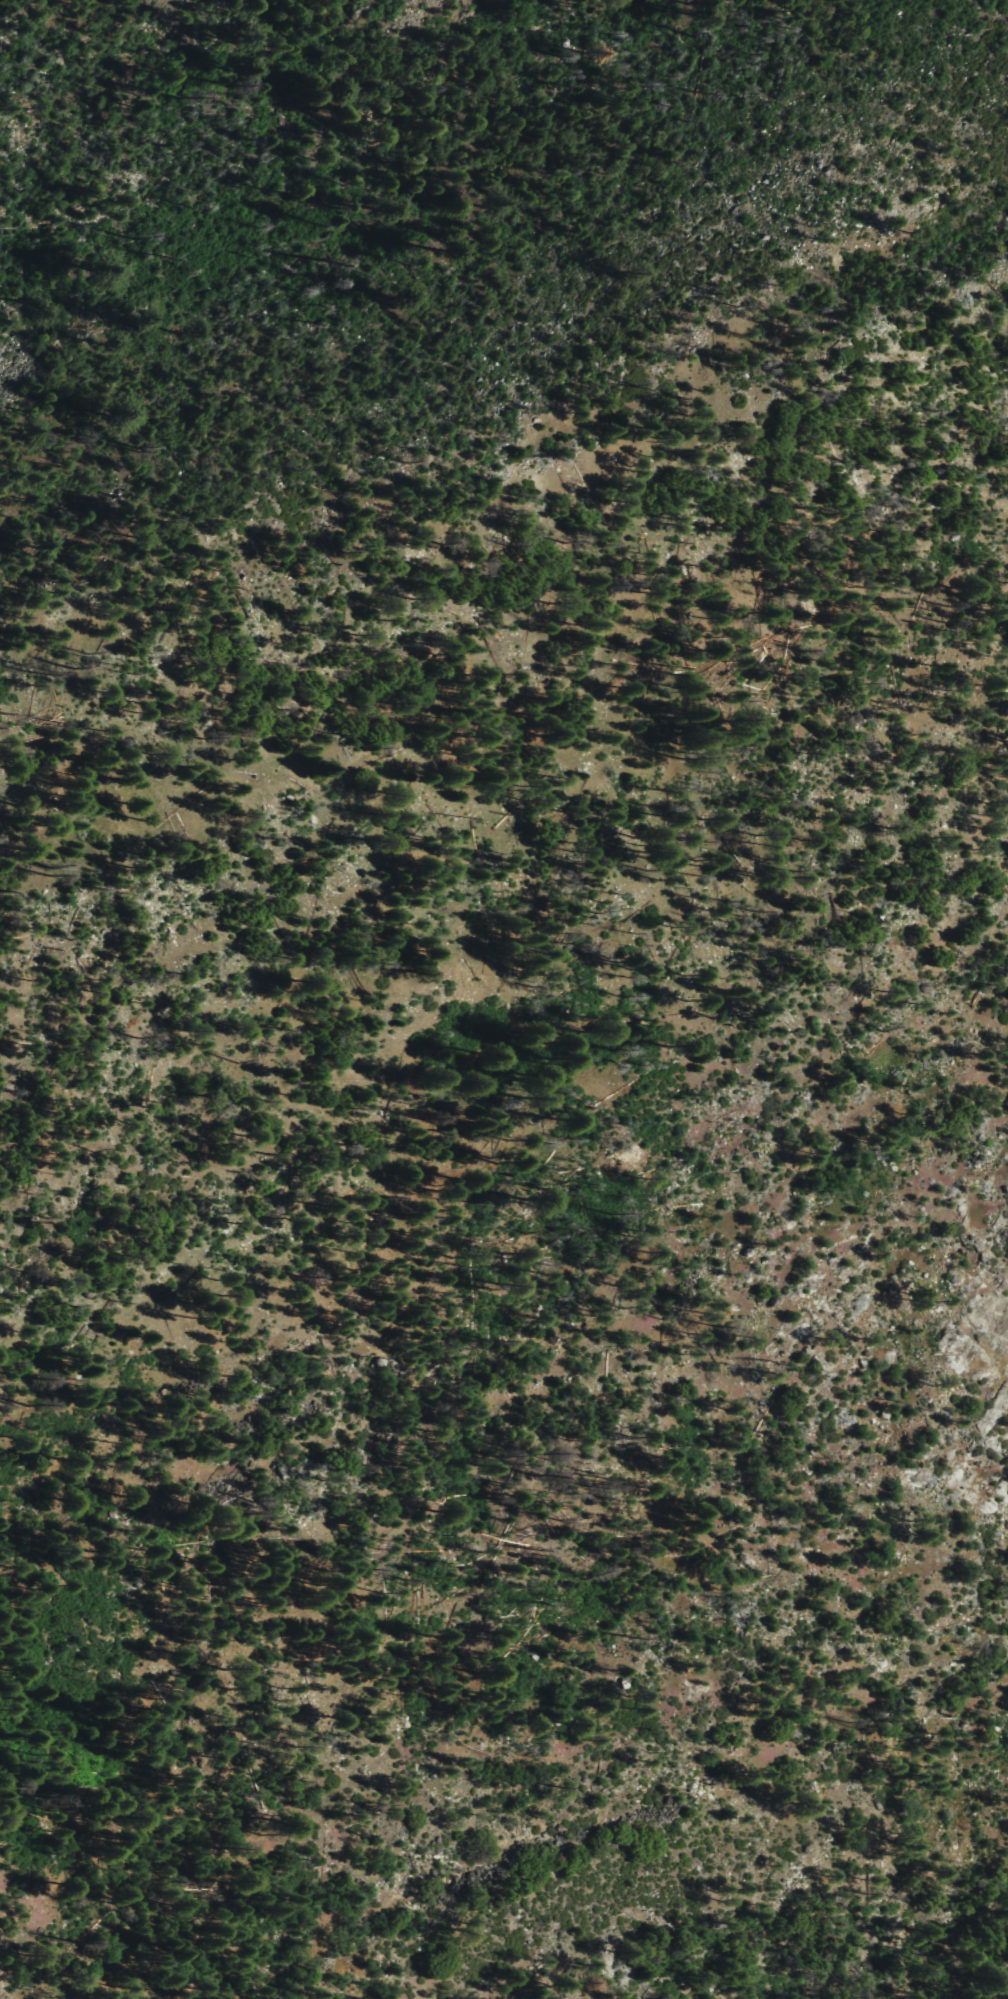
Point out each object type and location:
road: (927, 1835)

